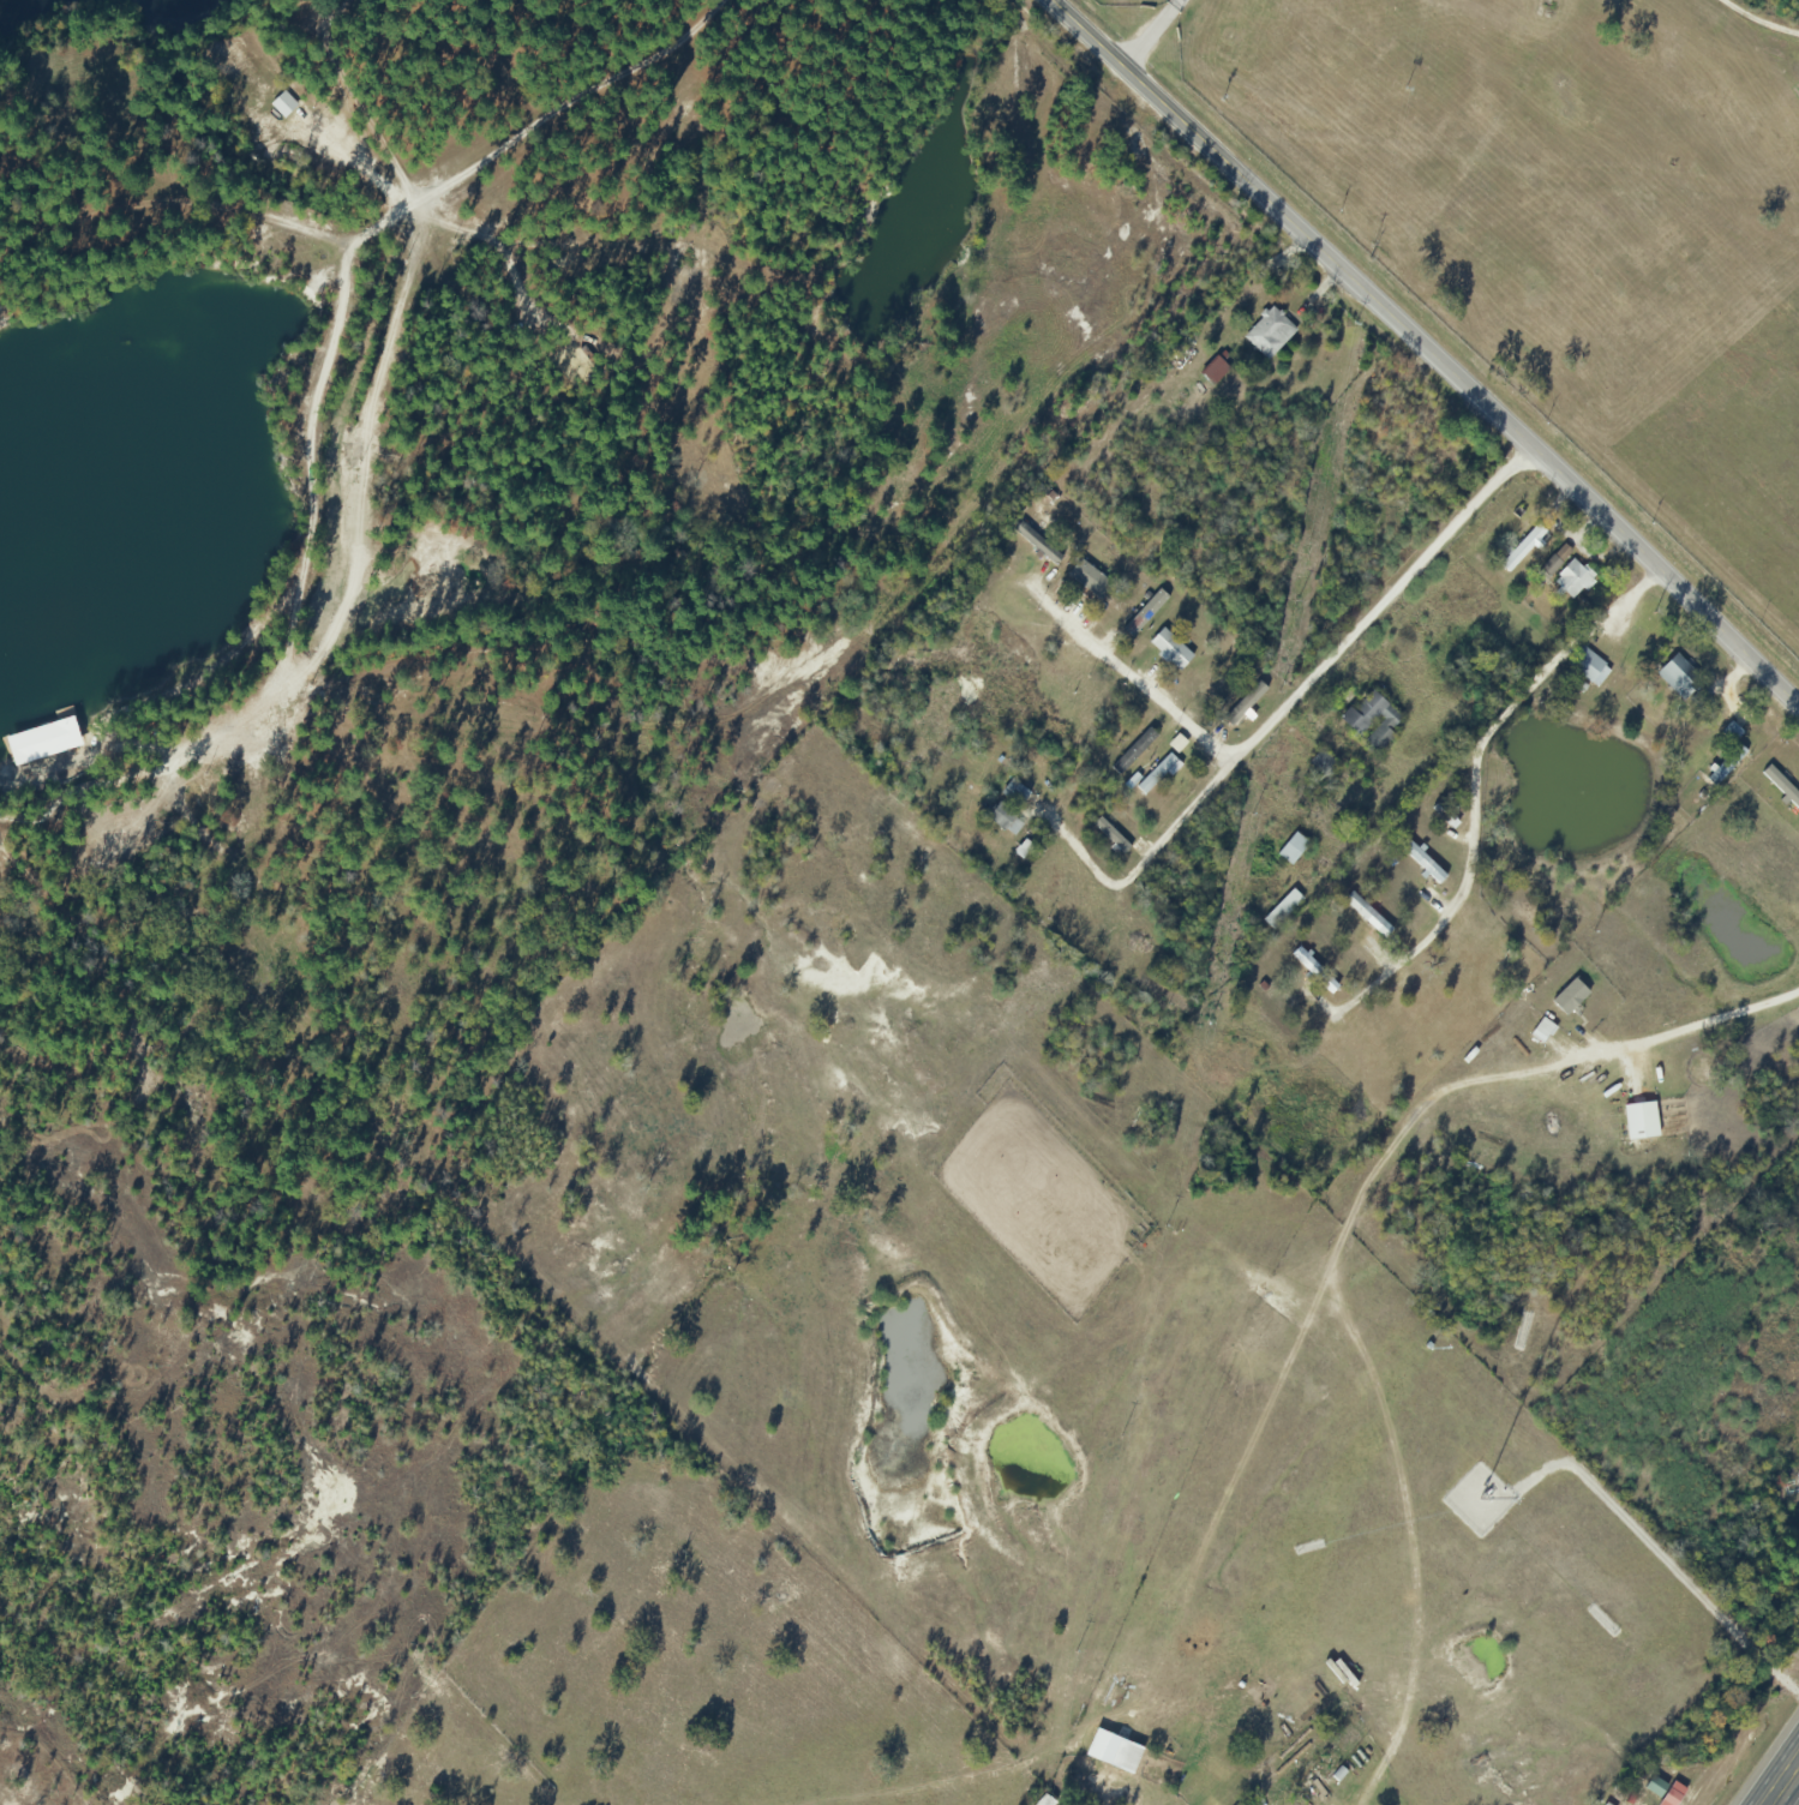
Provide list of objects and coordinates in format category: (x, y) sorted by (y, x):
road: (1149, 32)
road: (373, 238)
road: (79, 299)
building: (1267, 334)
road: (1427, 350)
building: (1213, 372)
building: (1522, 550)
building: (1572, 578)
building: (1182, 647)
building: (1588, 668)
building: (1677, 678)
road: (1312, 694)
building: (1372, 724)
building: (1133, 752)
building: (1323, 764)
building: (1725, 767)
building: (1013, 794)
building: (1005, 821)
building: (1291, 850)
building: (1421, 863)
building: (1282, 911)
building: (1367, 917)
building: (1314, 972)
building: (1569, 999)
building: (1542, 1032)
building: (1125, 1757)
road: (1781, 1780)
building: (1311, 1785)

